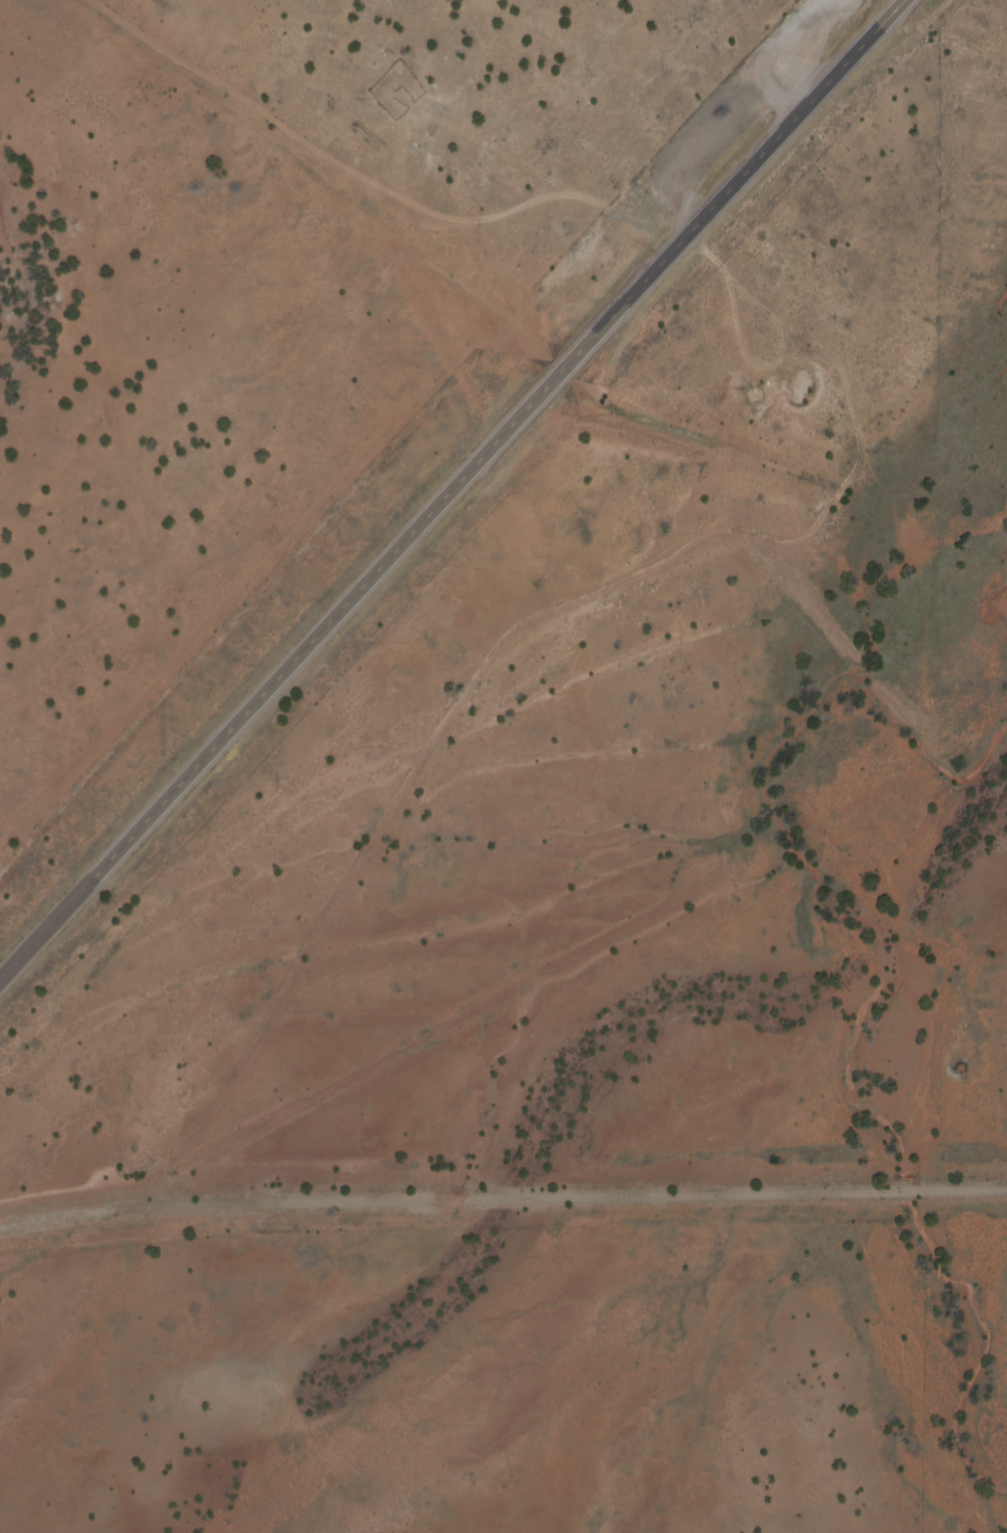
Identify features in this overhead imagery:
road: (365, 176)
road: (451, 488)
road: (563, 1202)

